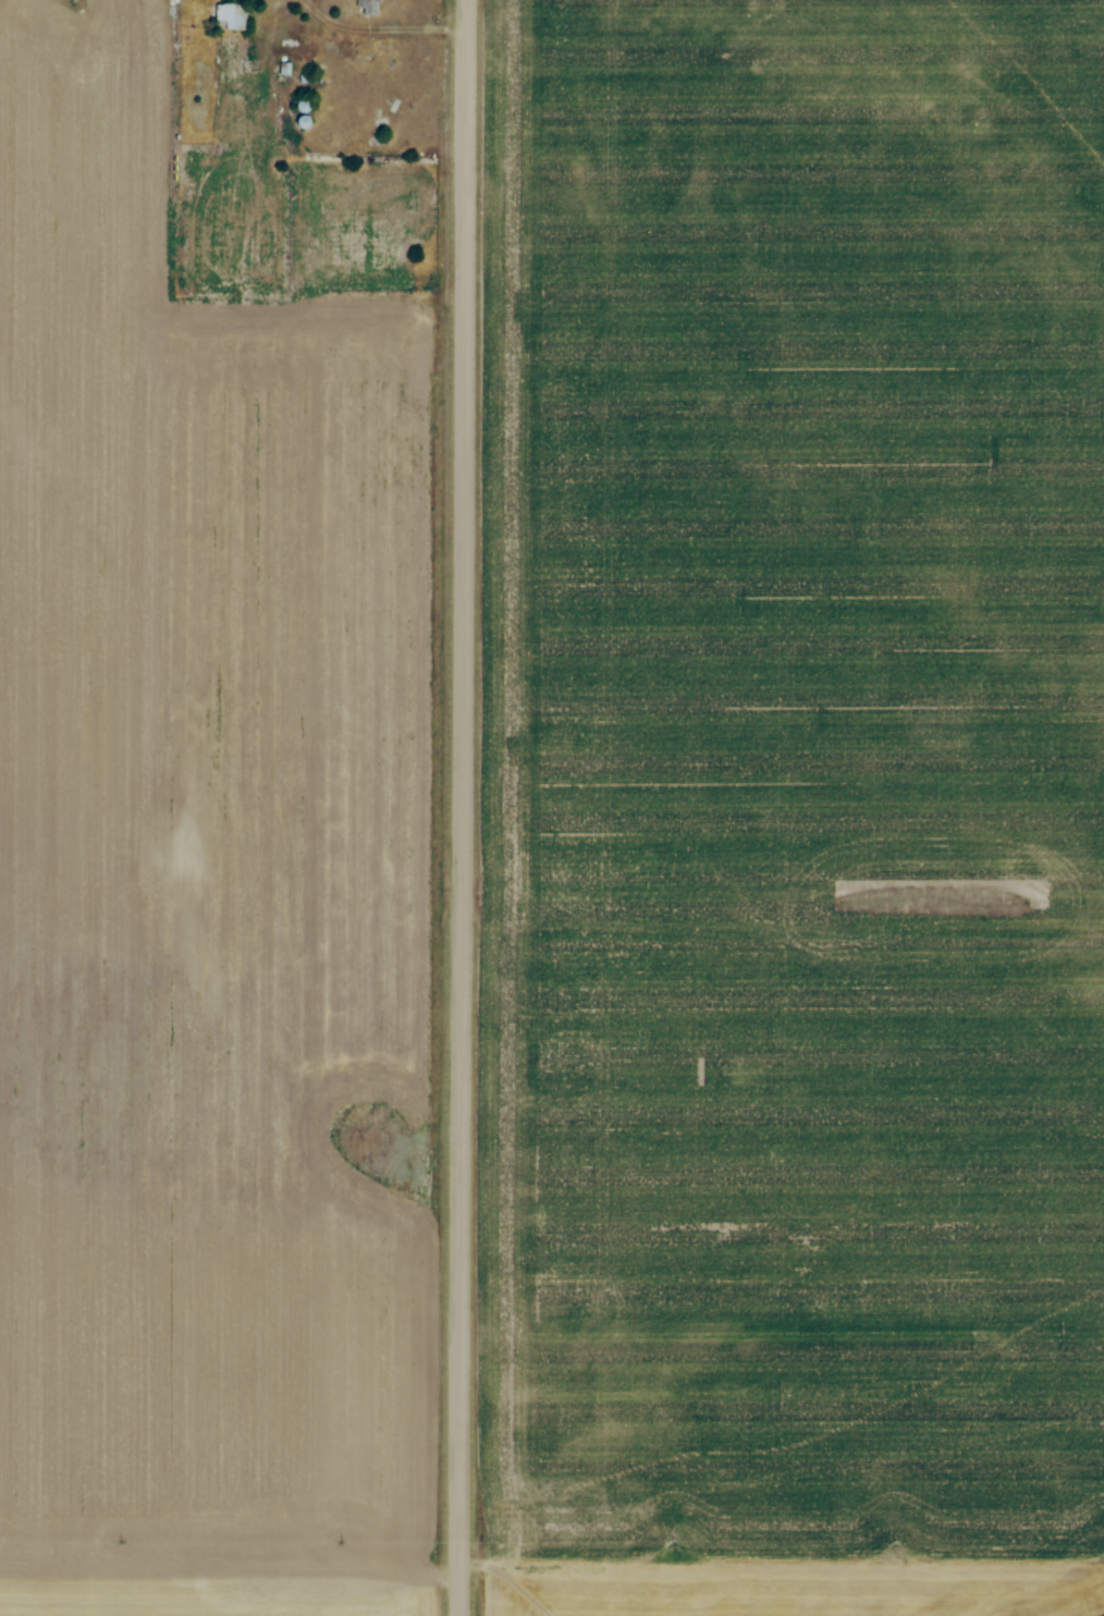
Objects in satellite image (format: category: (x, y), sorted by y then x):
building: (230, 17)
road: (461, 807)
crop: (793, 809)
crop: (146, 991)

